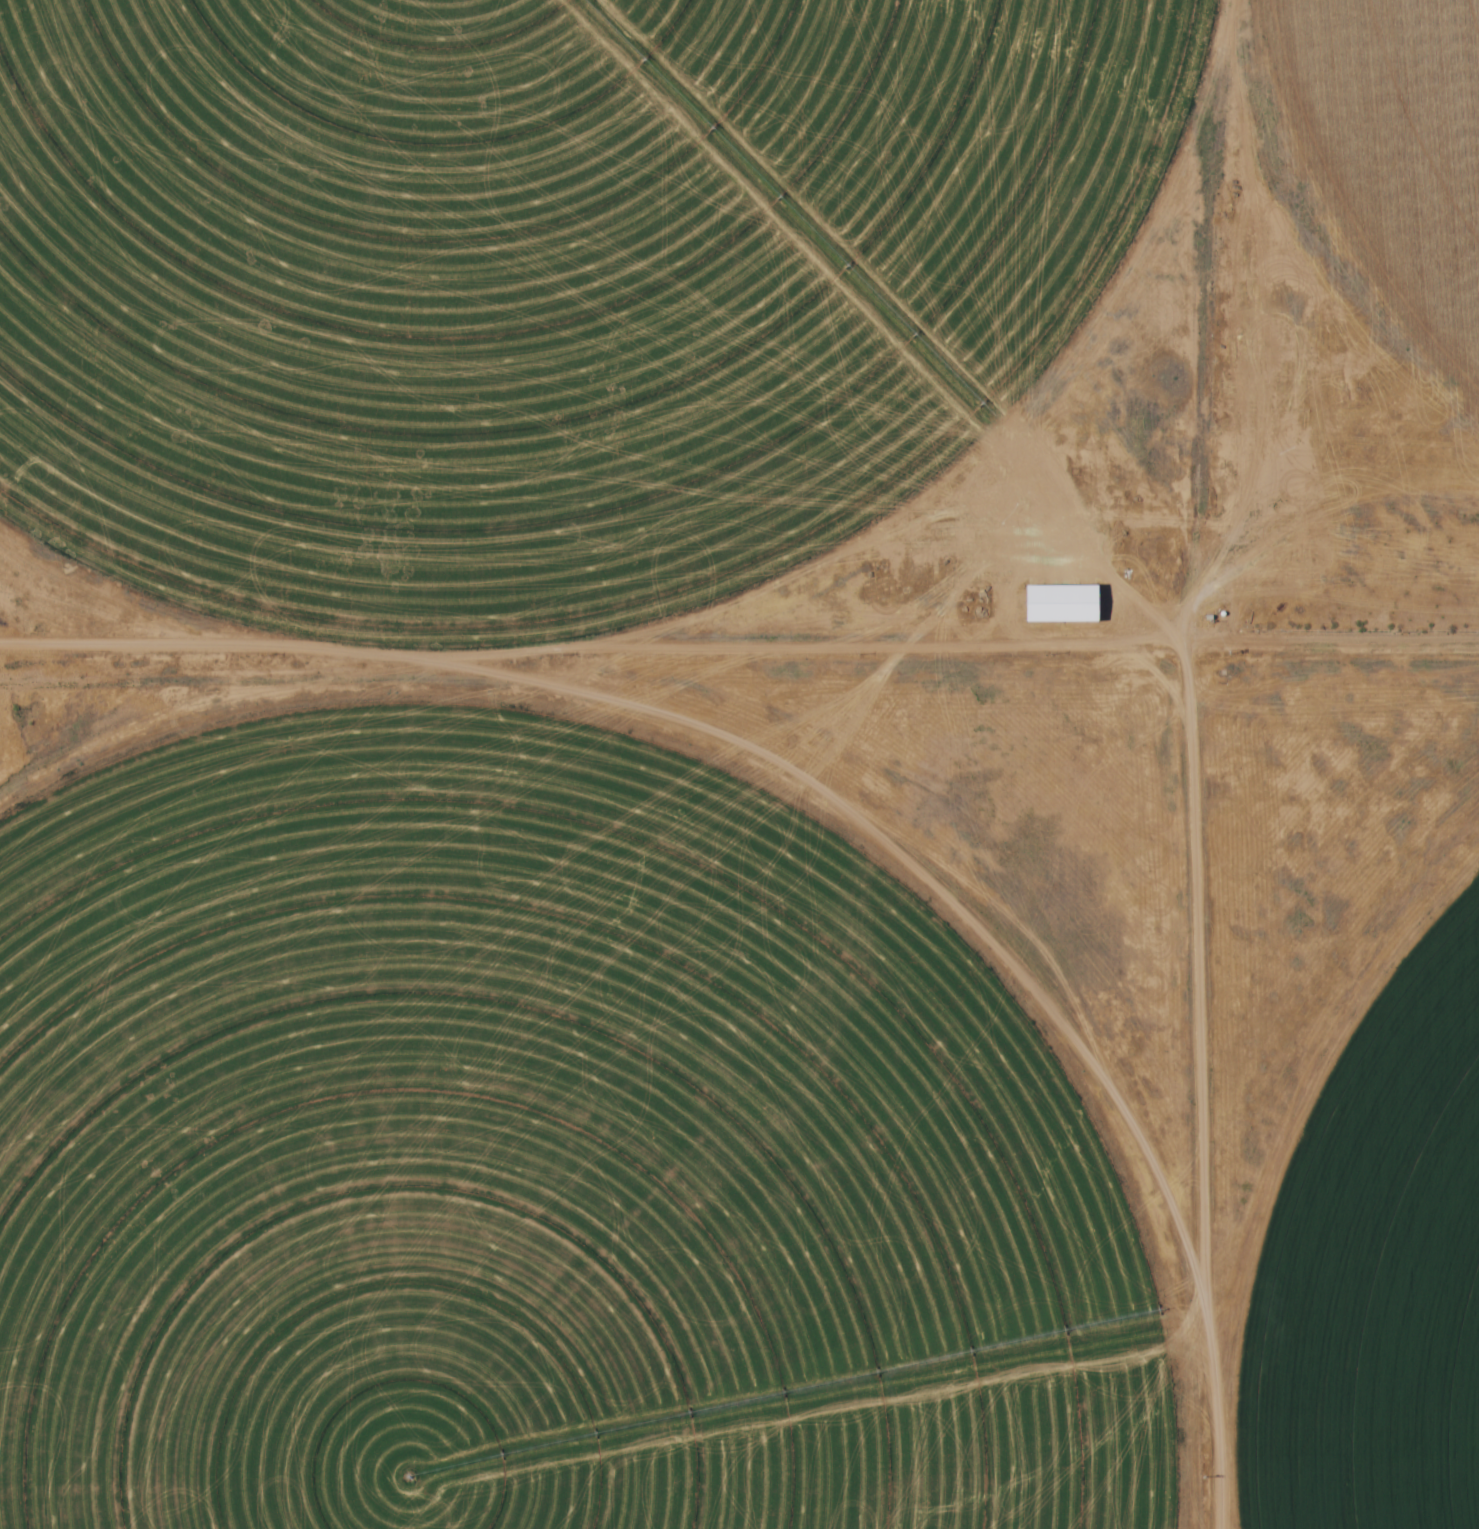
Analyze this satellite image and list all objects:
crop: (1395, 149)
crop: (547, 281)
road: (739, 644)
road: (242, 679)
road: (897, 845)
road: (1198, 1085)
crop: (537, 1153)
crop: (1378, 1276)

